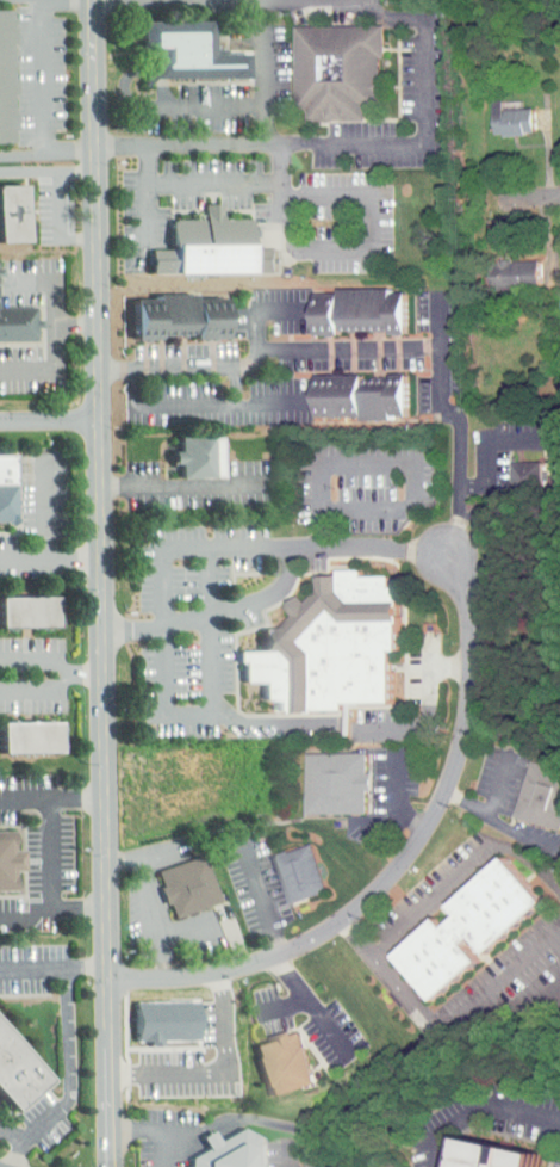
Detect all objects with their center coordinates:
building: (183, 51)
building: (336, 67)
road: (265, 70)
road: (46, 76)
building: (7, 78)
road: (160, 107)
road: (206, 107)
building: (553, 111)
building: (496, 112)
road: (425, 130)
road: (183, 142)
road: (50, 153)
road: (49, 171)
road: (216, 183)
road: (529, 196)
building: (12, 212)
road: (151, 212)
road: (60, 224)
building: (213, 247)
road: (362, 248)
building: (555, 265)
building: (498, 266)
road: (262, 309)
building: (361, 309)
building: (182, 315)
road: (437, 319)
building: (18, 322)
road: (79, 323)
road: (60, 331)
road: (373, 345)
road: (239, 385)
building: (361, 397)
road: (198, 406)
road: (50, 421)
road: (485, 444)
building: (199, 457)
road: (393, 461)
building: (511, 468)
road: (181, 484)
building: (7, 490)
road: (50, 506)
road: (186, 547)
road: (51, 560)
road: (287, 575)
road: (102, 583)
building: (26, 611)
building: (332, 646)
road: (54, 661)
road: (39, 685)
road: (216, 696)
road: (424, 708)
road: (272, 723)
building: (27, 736)
building: (335, 783)
road: (498, 784)
road: (52, 796)
building: (539, 796)
road: (398, 798)
road: (502, 822)
road: (388, 827)
road: (54, 853)
road: (126, 858)
building: (5, 862)
road: (404, 863)
building: (299, 875)
building: (187, 884)
road: (148, 894)
road: (265, 896)
road: (52, 912)
building: (468, 930)
road: (357, 938)
road: (378, 950)
road: (167, 951)
road: (33, 968)
road: (87, 968)
road: (506, 972)
road: (286, 1005)
road: (311, 1006)
building: (168, 1020)
parking lot: (67, 1036)
road: (70, 1063)
building: (284, 1063)
road: (218, 1070)
building: (15, 1074)
road: (494, 1104)
road: (269, 1120)
road: (154, 1131)
road: (13, 1134)
road: (167, 1149)
road: (434, 1150)
road: (20, 1151)
building: (231, 1151)
road: (286, 1154)
building: (498, 1155)

